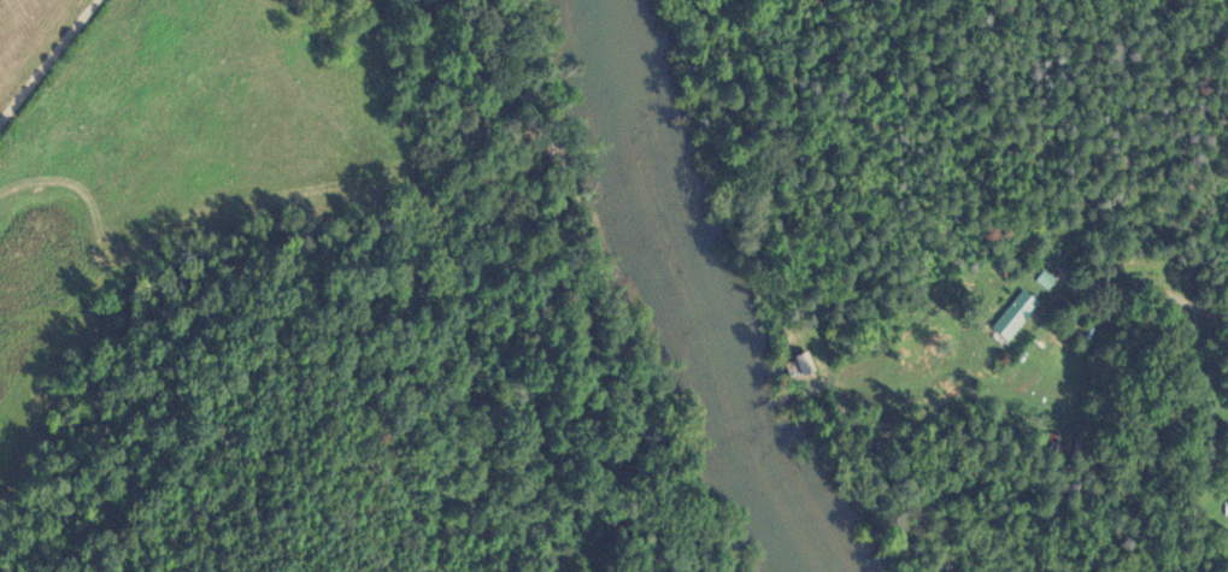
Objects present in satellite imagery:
road: (47, 59)
building: (1047, 281)
road: (1146, 291)
river: (707, 294)
building: (1018, 316)

